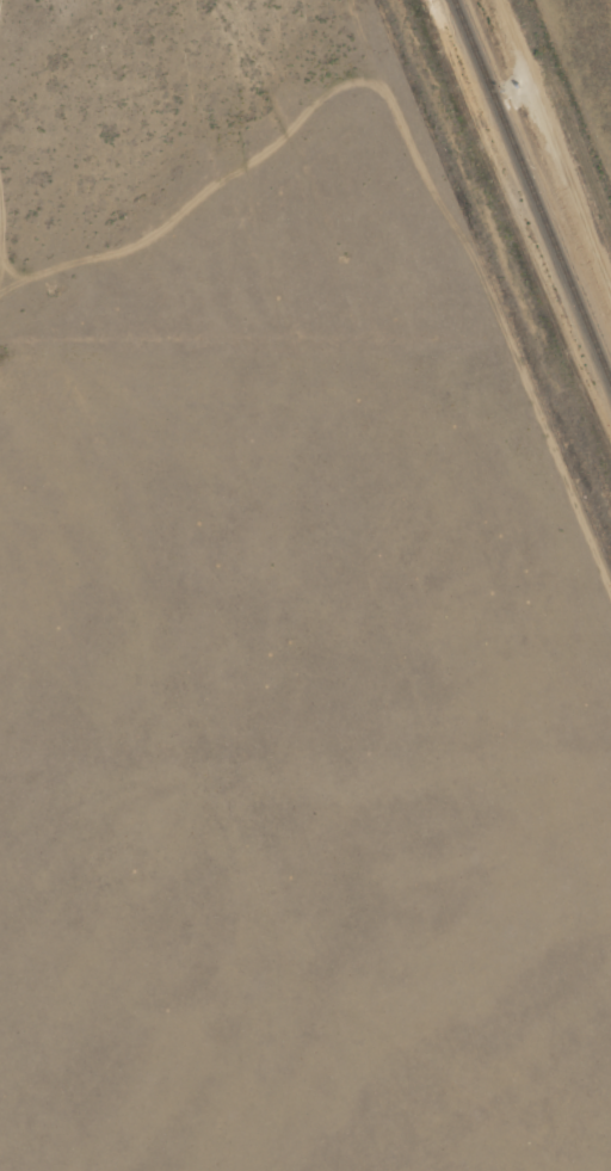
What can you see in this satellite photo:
railway: (530, 191)

